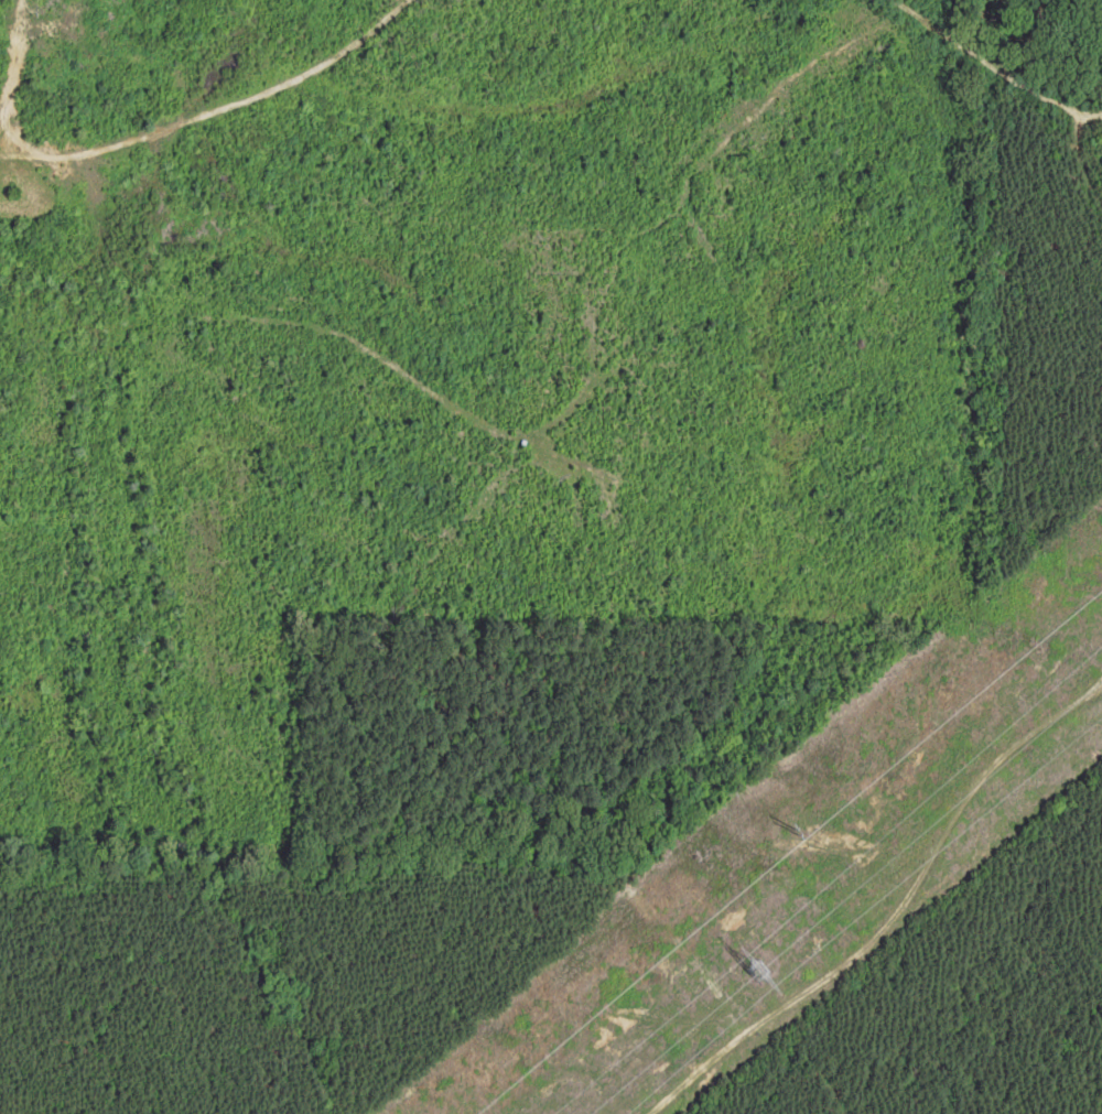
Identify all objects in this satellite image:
power tower: (753, 974)

